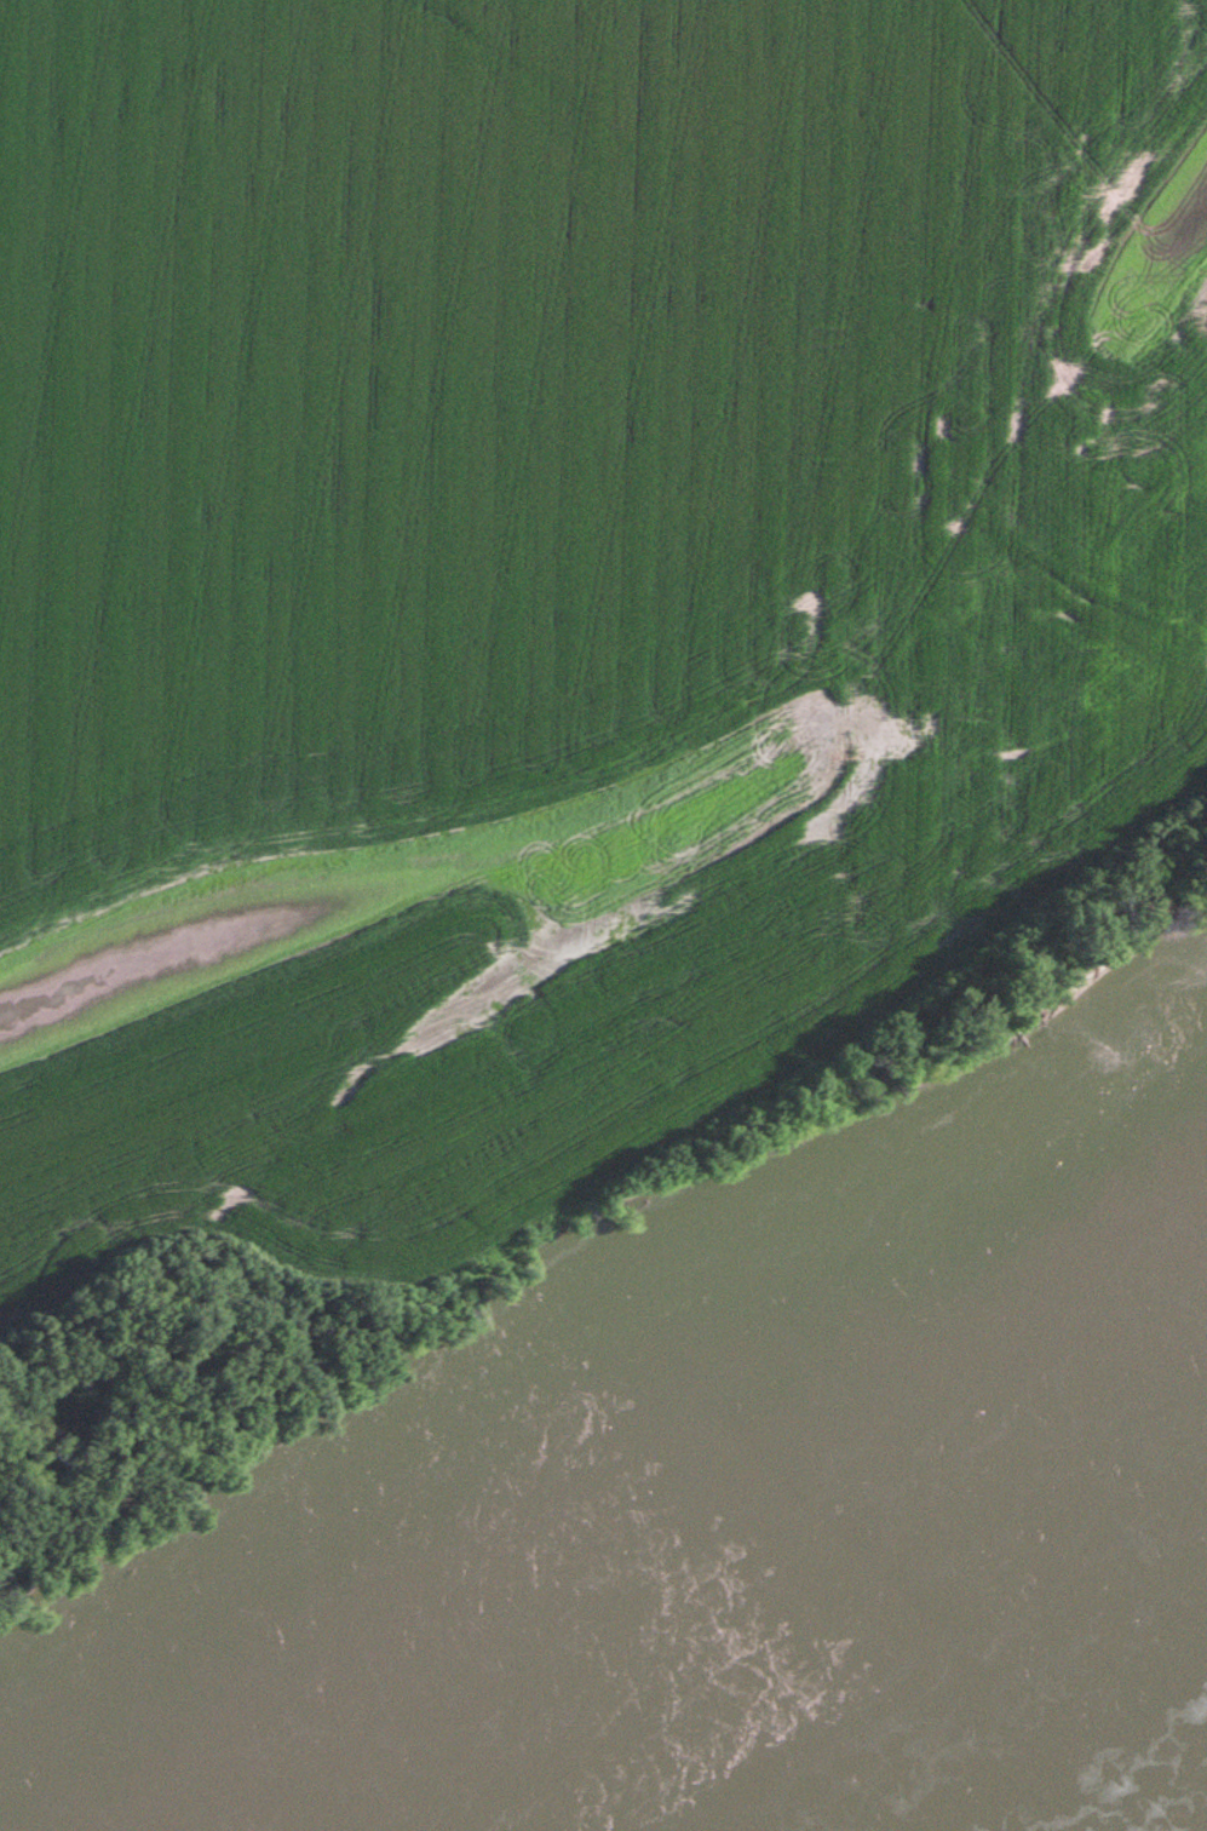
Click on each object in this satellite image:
river: (1177, 1815)

